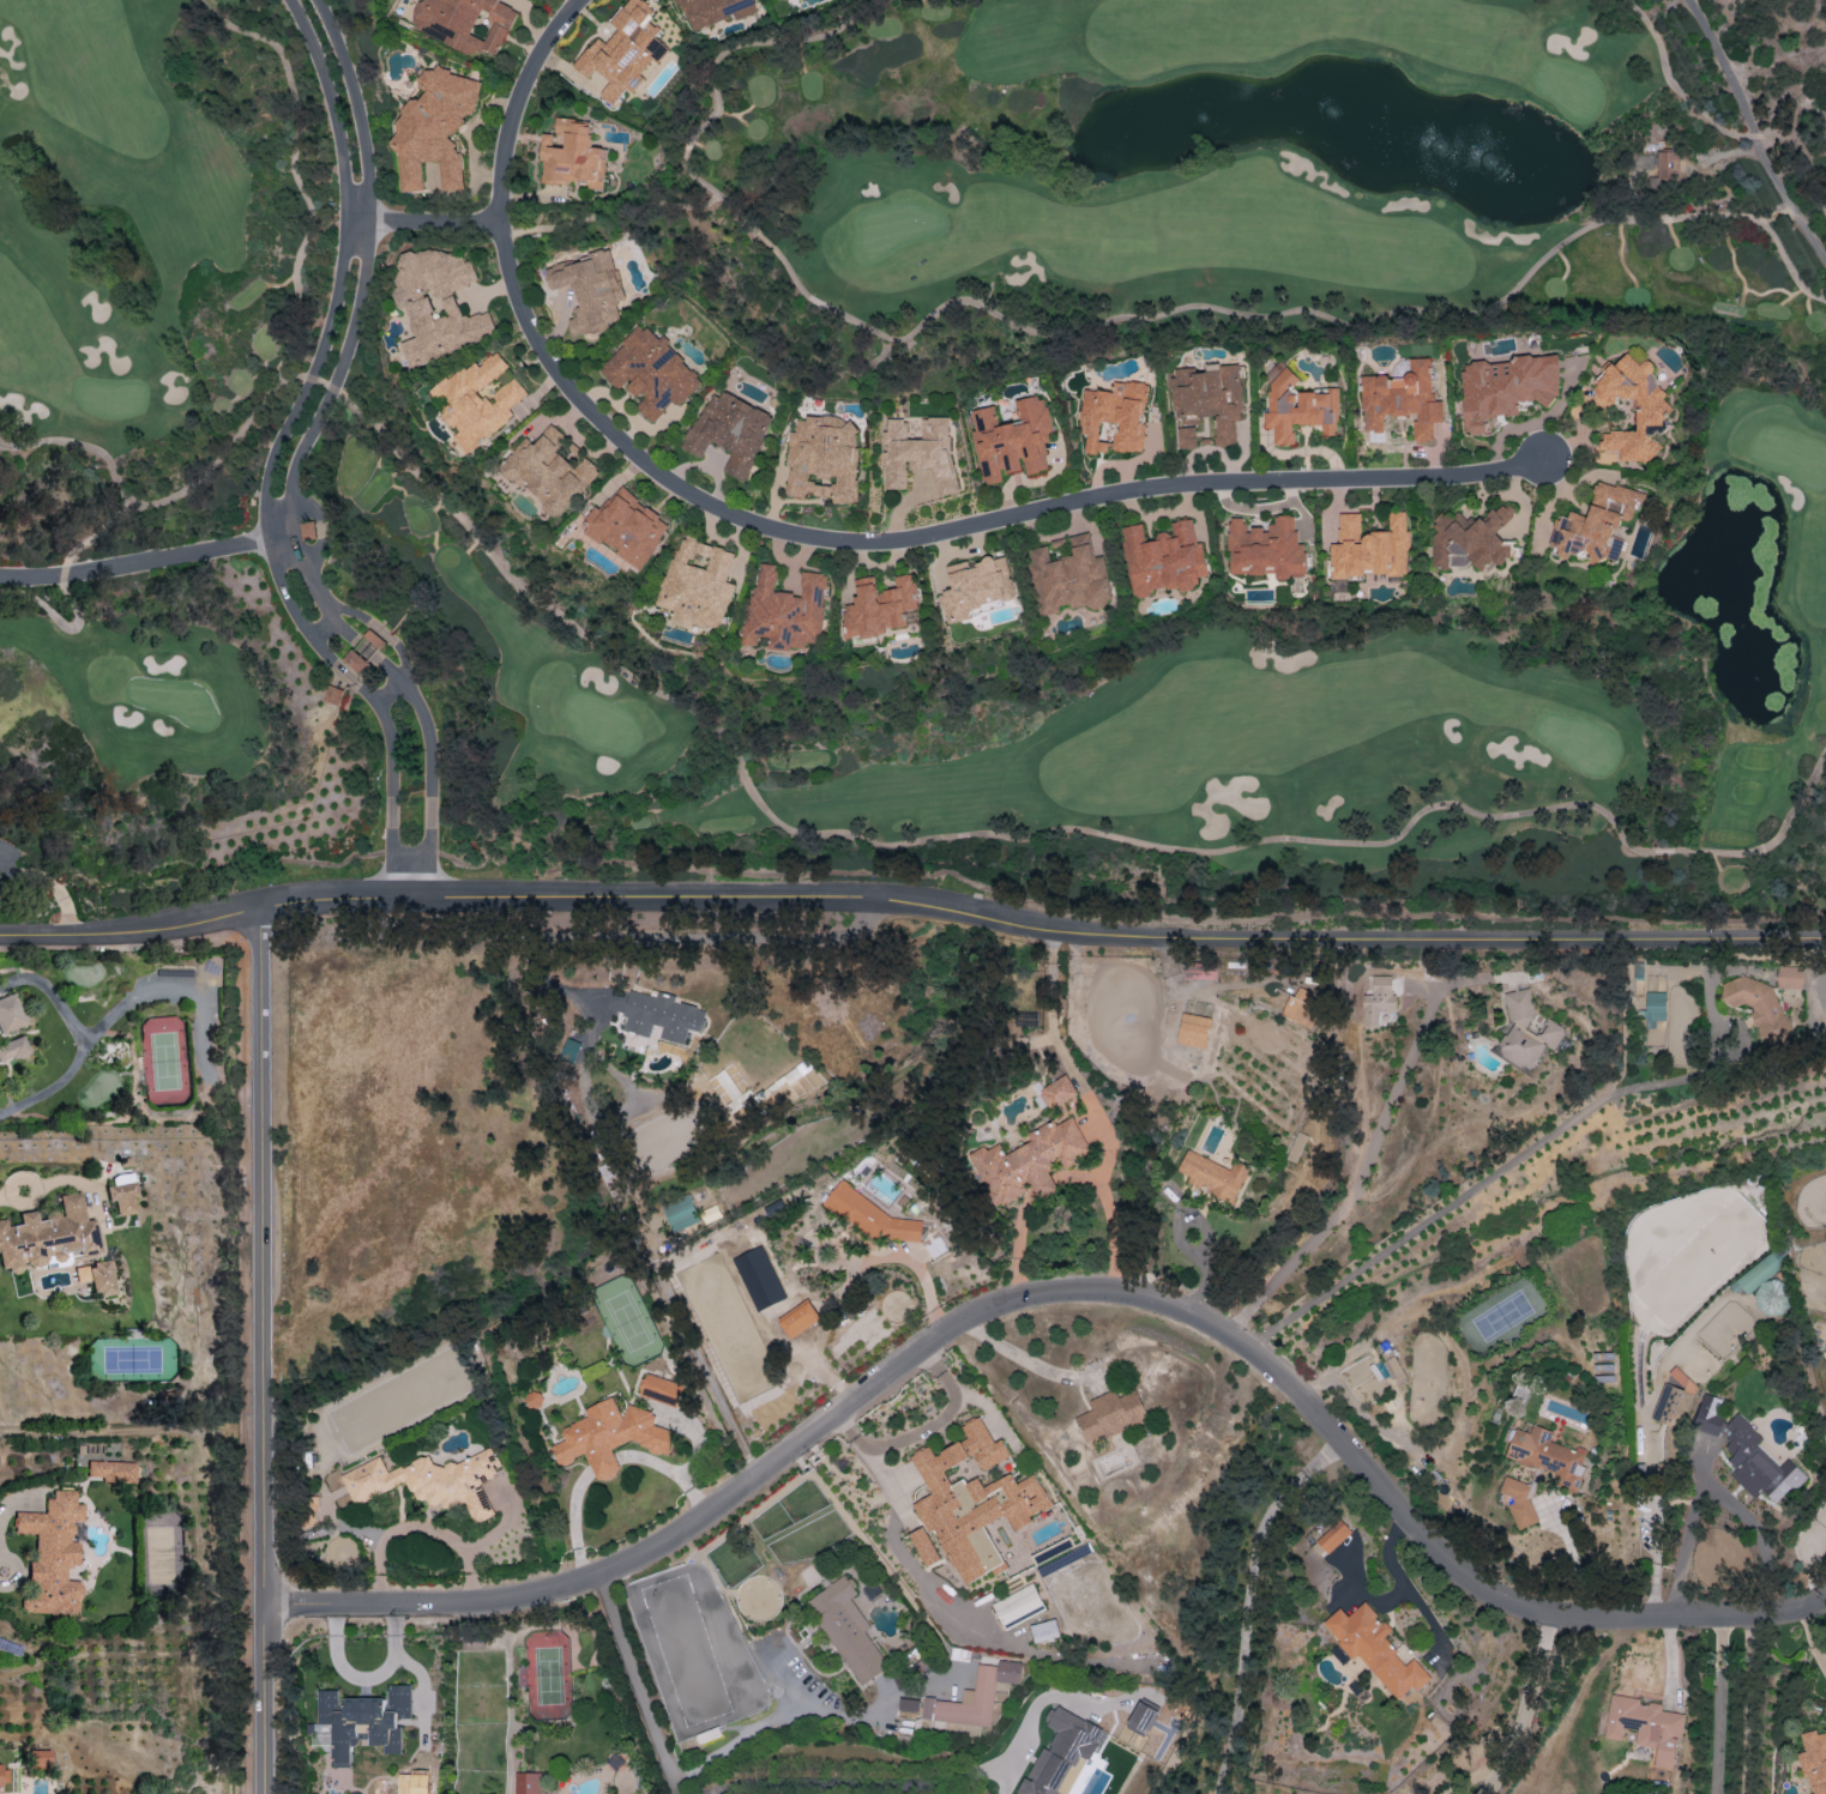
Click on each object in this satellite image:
building: (710, 10)
building: (466, 23)
building: (623, 50)
road: (1683, 96)
building: (435, 128)
road: (1753, 132)
building: (572, 156)
building: (1667, 164)
road: (610, 216)
road: (427, 219)
road: (352, 276)
building: (590, 290)
building: (439, 304)
road: (1083, 330)
building: (651, 372)
road: (320, 386)
building: (1505, 387)
building: (1402, 400)
building: (477, 401)
building: (1206, 401)
building: (1632, 406)
building: (1297, 407)
building: (1113, 417)
building: (730, 431)
building: (1012, 440)
road: (80, 446)
building: (918, 451)
building: (824, 458)
building: (548, 471)
road: (194, 484)
building: (1595, 523)
building: (627, 526)
road: (824, 536)
building: (1470, 539)
building: (1265, 548)
building: (1367, 550)
road: (281, 551)
building: (1163, 558)
road: (141, 578)
building: (1071, 578)
road: (61, 584)
building: (697, 584)
building: (976, 586)
building: (878, 606)
building: (784, 610)
road: (355, 612)
road: (323, 628)
road: (76, 629)
road: (354, 635)
road: (399, 650)
building: (364, 651)
road: (331, 658)
road: (386, 666)
road: (364, 690)
road: (388, 690)
road: (429, 784)
road: (392, 798)
road: (1032, 836)
road: (10, 858)
road: (10, 875)
road: (59, 893)
road: (1041, 928)
road: (131, 932)
road: (665, 937)
building: (1200, 971)
building: (1789, 977)
building: (1379, 1001)
building: (1754, 1001)
building: (1301, 1008)
building: (1655, 1008)
road: (1050, 1014)
building: (10, 1015)
building: (662, 1016)
building: (1193, 1029)
building: (1525, 1031)
building: (12, 1050)
road: (80, 1052)
building: (1057, 1091)
road: (1525, 1150)
building: (1029, 1162)
building: (1212, 1176)
road: (1358, 1177)
road: (11, 1195)
road: (1149, 1195)
building: (122, 1198)
building: (680, 1212)
building: (881, 1220)
building: (48, 1237)
building: (97, 1279)
road: (924, 1285)
road: (1061, 1292)
building: (800, 1319)
road: (260, 1349)
road: (1029, 1358)
building: (1394, 1369)
building: (661, 1389)
building: (1671, 1406)
building: (1111, 1415)
building: (1709, 1415)
road: (923, 1430)
building: (610, 1436)
road: (1331, 1451)
building: (1547, 1455)
building: (1758, 1463)
building: (113, 1473)
building: (429, 1481)
building: (974, 1502)
building: (1519, 1504)
road: (1688, 1529)
road: (1761, 1535)
building: (1333, 1536)
building: (924, 1546)
building: (52, 1557)
road: (910, 1558)
road: (16, 1571)
road: (1408, 1588)
road: (1364, 1593)
building: (1018, 1606)
road: (1247, 1619)
building: (848, 1629)
building: (1044, 1630)
road: (1809, 1638)
building: (1374, 1649)
road: (637, 1685)
building: (974, 1696)
road: (1744, 1704)
building: (909, 1705)
road: (1719, 1705)
road: (1539, 1707)
road: (776, 1715)
building: (1143, 1719)
building: (363, 1720)
building: (1645, 1726)
building: (1062, 1753)
building: (38, 1760)
building: (1814, 1760)
building: (2, 1776)
building: (526, 1782)
road: (860, 1783)
building: (608, 1793)

